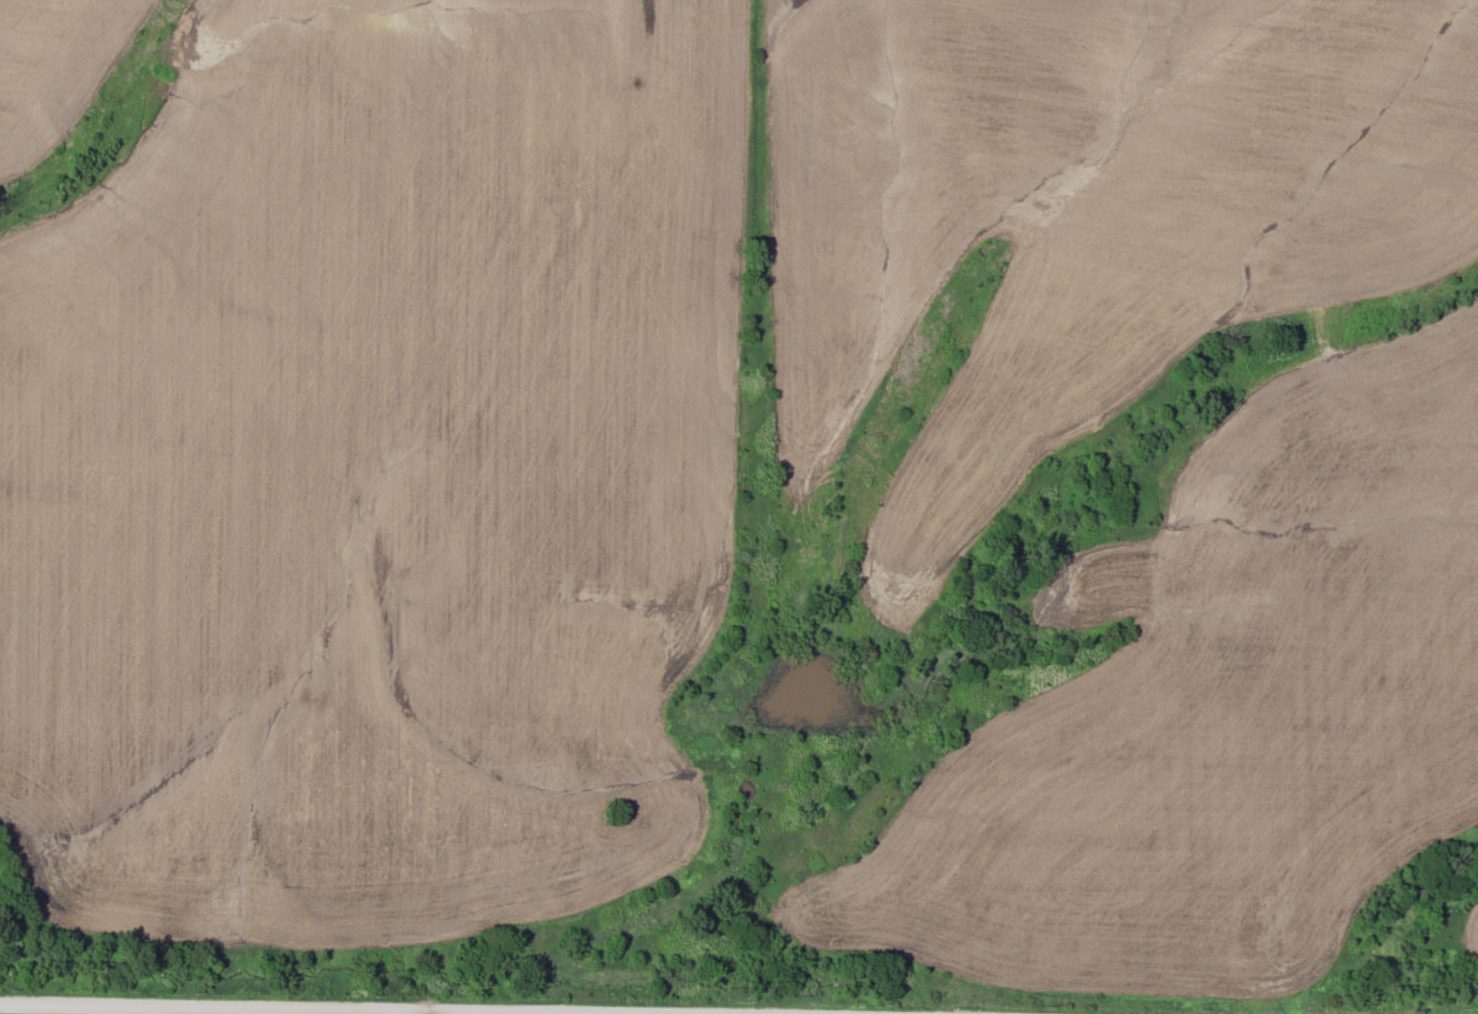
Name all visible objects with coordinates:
crop: (52, 68)
crop: (1084, 214)
crop: (371, 472)
crop: (1222, 710)
crop: (1470, 945)
road: (285, 1009)

